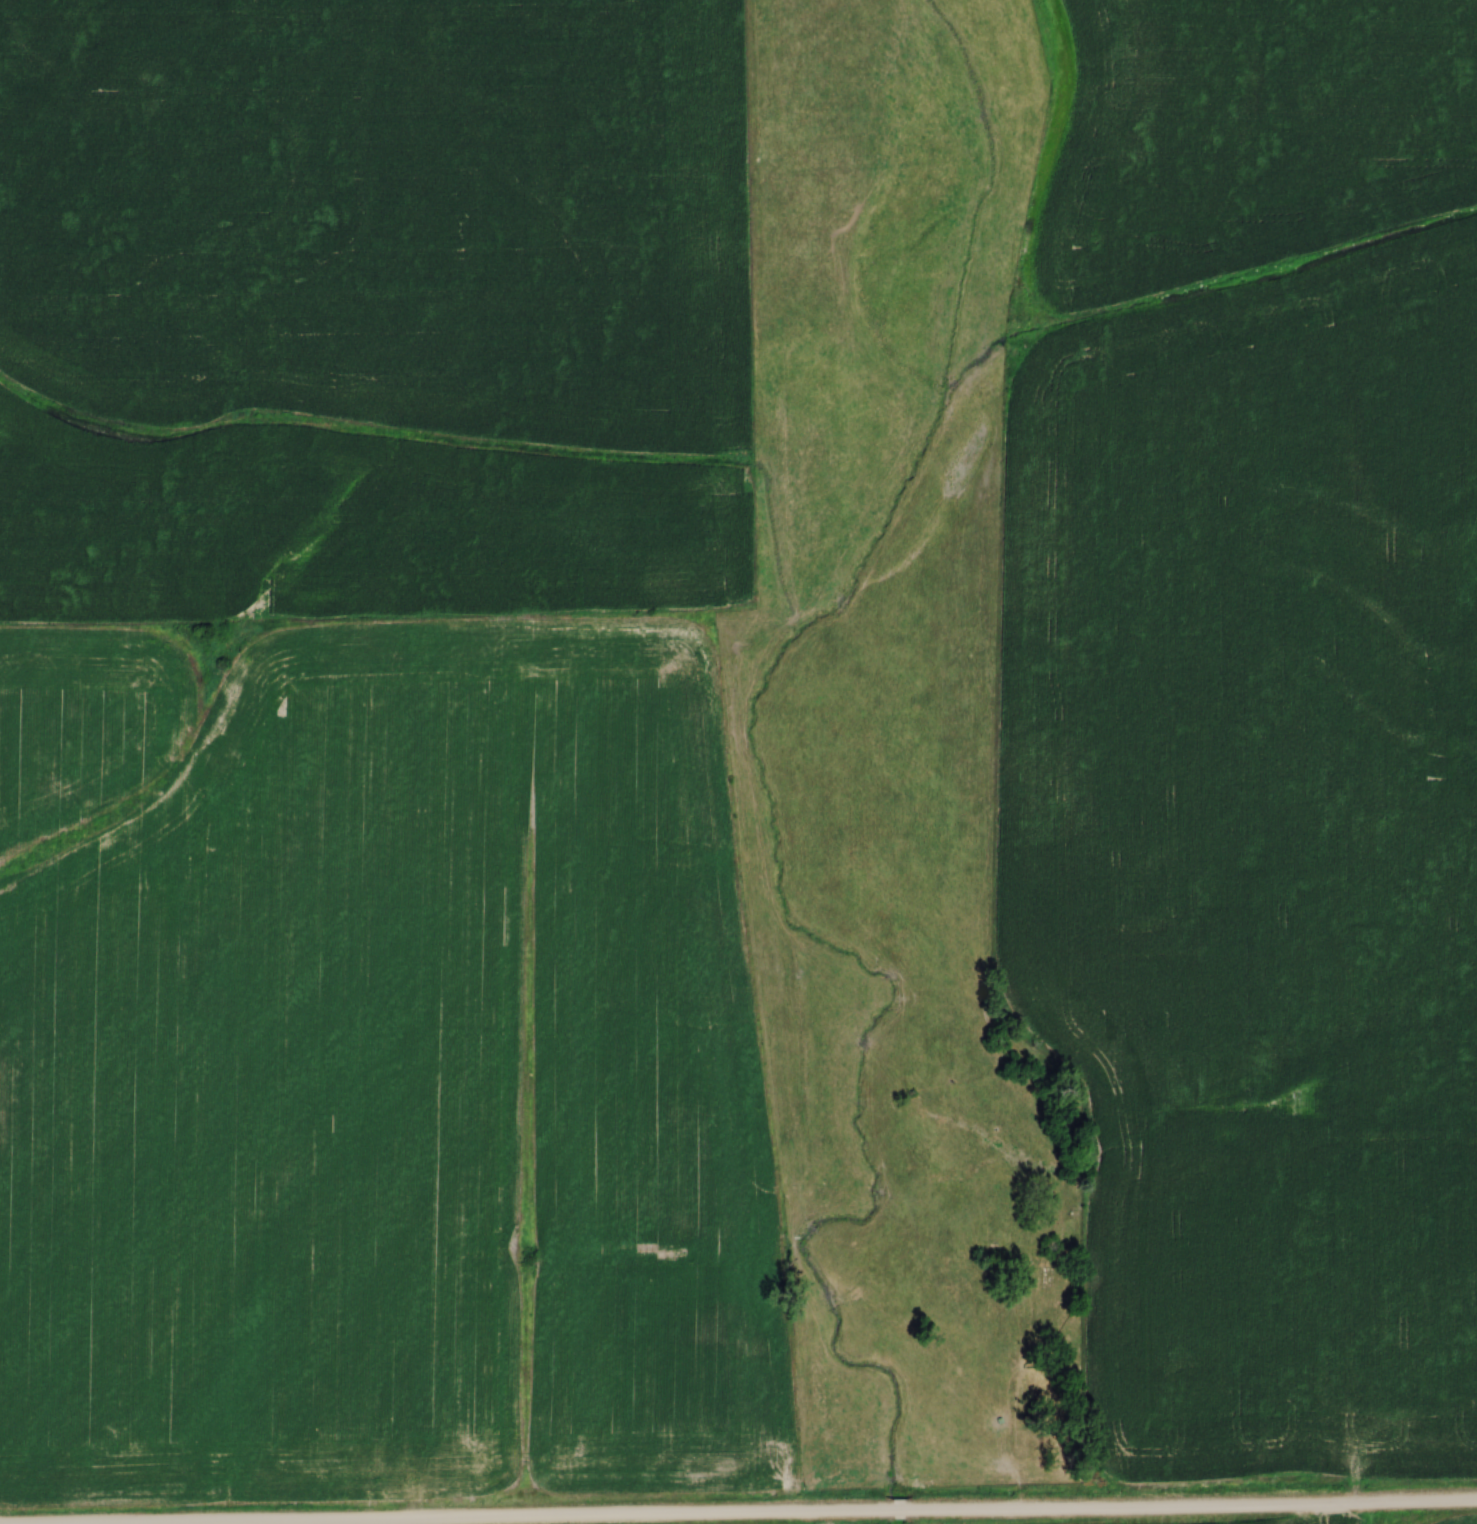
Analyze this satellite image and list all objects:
road: (945, 1514)

